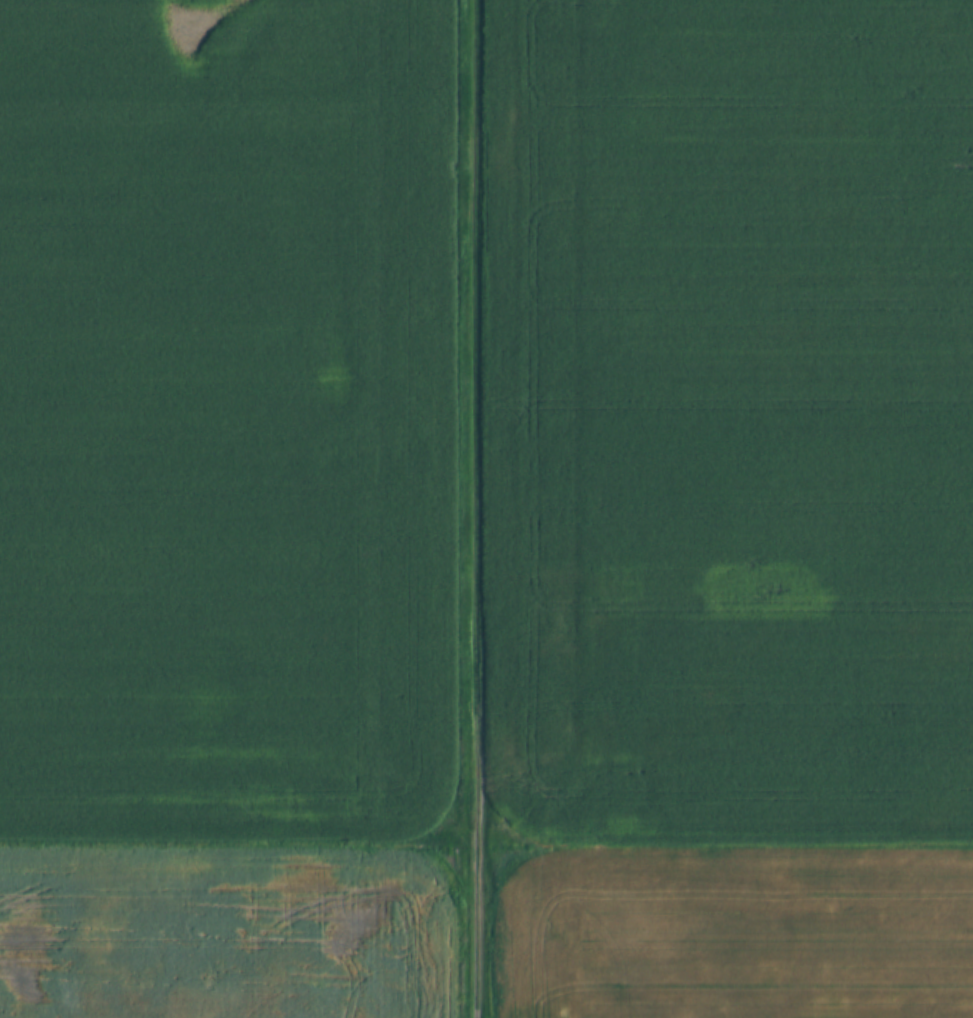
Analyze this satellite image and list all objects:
road: (486, 509)

